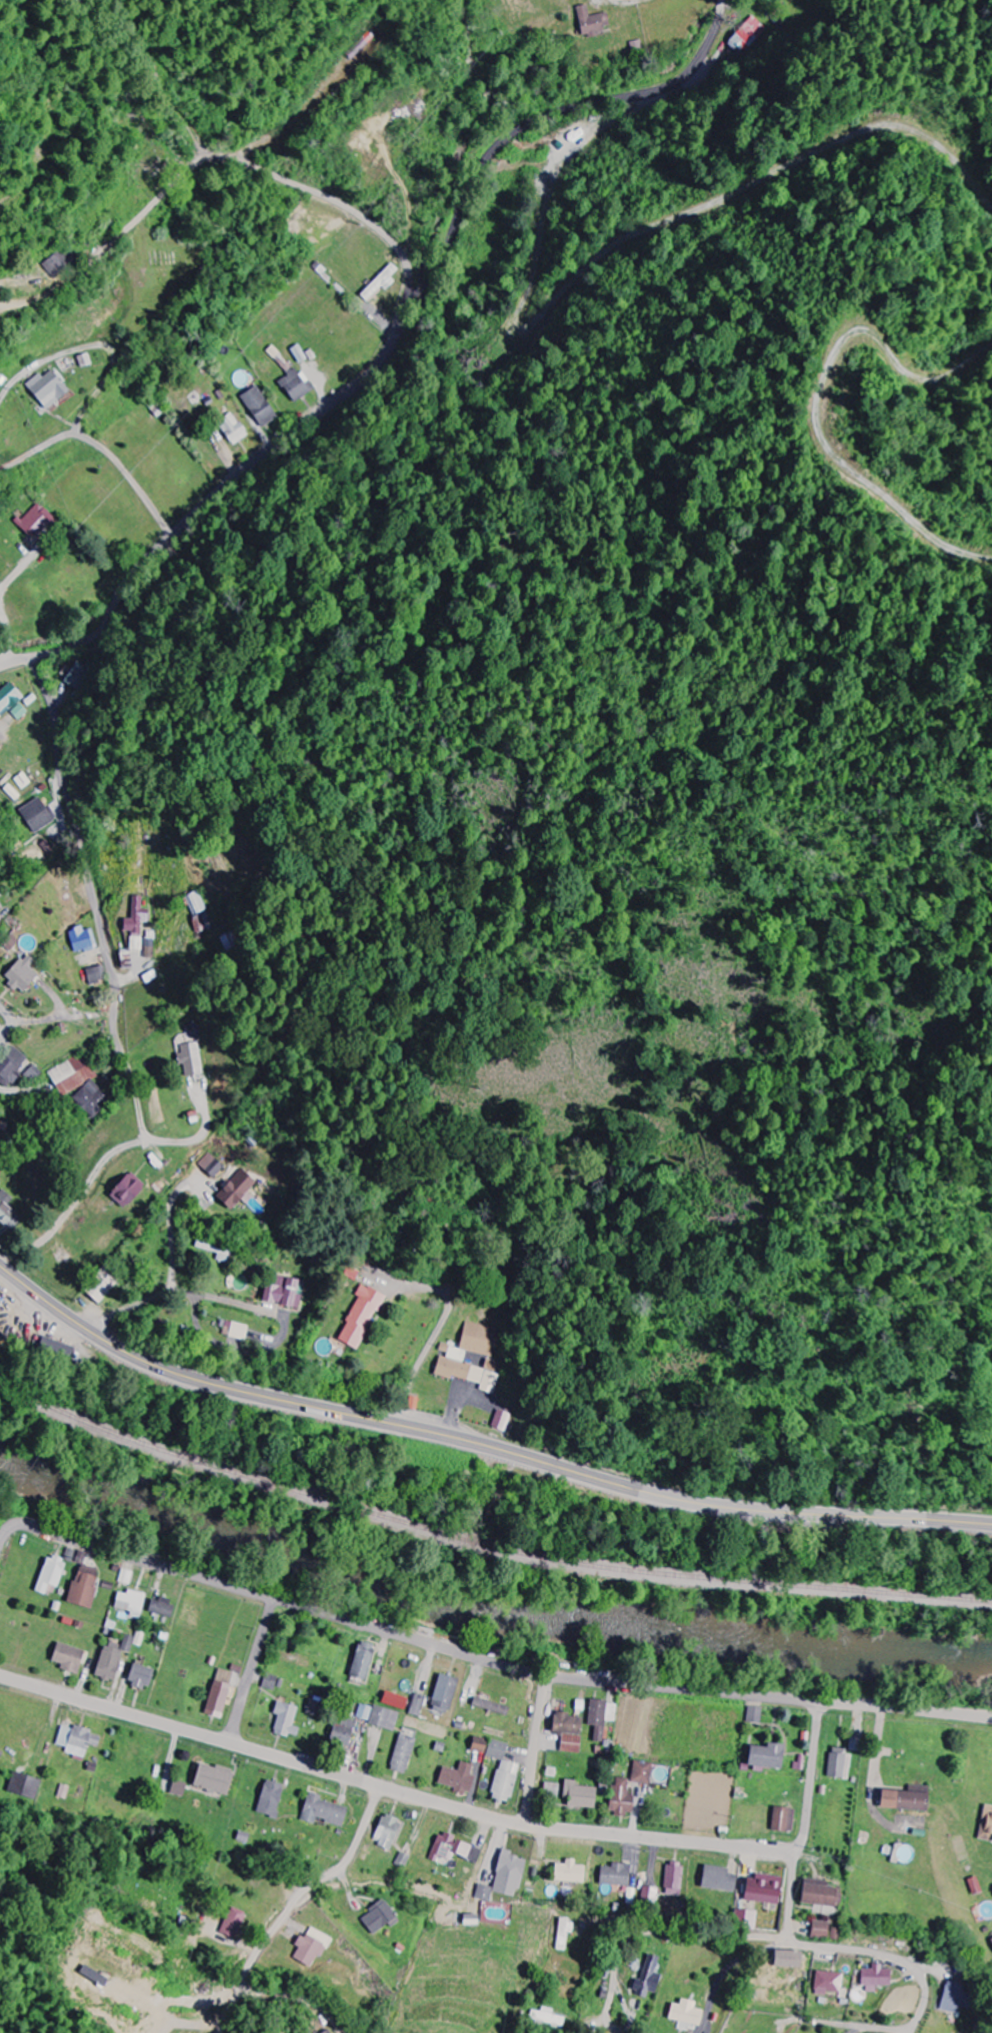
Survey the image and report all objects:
building: (590, 21)
building: (748, 35)
building: (357, 47)
road: (545, 115)
road: (205, 164)
building: (57, 264)
building: (379, 281)
building: (294, 384)
building: (47, 388)
building: (258, 406)
building: (231, 428)
road: (215, 494)
road: (149, 506)
building: (36, 521)
road: (7, 639)
building: (78, 676)
building: (7, 696)
building: (19, 711)
building: (23, 780)
building: (37, 815)
building: (195, 902)
building: (0, 907)
building: (135, 922)
building: (198, 924)
road: (103, 933)
building: (82, 939)
building: (149, 947)
building: (20, 974)
building: (96, 974)
road: (10, 1023)
building: (188, 1059)
building: (10, 1066)
building: (32, 1074)
building: (79, 1085)
building: (0, 1170)
building: (125, 1189)
building: (236, 1190)
building: (7, 1211)
building: (217, 1249)
building: (103, 1282)
building: (282, 1292)
building: (359, 1317)
building: (233, 1330)
road: (429, 1348)
building: (51, 1352)
building: (451, 1357)
building: (500, 1420)
road: (480, 1445)
railway: (483, 1543)
building: (50, 1574)
building: (83, 1586)
building: (131, 1602)
building: (160, 1607)
river: (488, 1613)
road: (401, 1637)
building: (132, 1641)
building: (67, 1657)
building: (361, 1660)
building: (107, 1662)
road: (253, 1671)
building: (138, 1676)
building: (269, 1682)
building: (219, 1693)
building: (444, 1693)
building: (394, 1700)
building: (416, 1705)
building: (489, 1706)
road: (907, 1708)
building: (364, 1712)
building: (753, 1715)
building: (600, 1717)
building: (384, 1718)
building: (286, 1719)
building: (566, 1724)
building: (341, 1733)
building: (78, 1740)
building: (570, 1743)
building: (478, 1744)
building: (496, 1749)
road: (535, 1750)
building: (402, 1753)
building: (764, 1755)
building: (839, 1763)
building: (641, 1772)
building: (457, 1777)
building: (212, 1778)
building: (505, 1781)
road: (812, 1781)
building: (25, 1786)
building: (178, 1788)
road: (392, 1789)
building: (552, 1790)
building: (579, 1795)
building: (621, 1797)
building: (269, 1798)
building: (905, 1798)
building: (322, 1811)
building: (783, 1819)
building: (986, 1824)
building: (386, 1831)
building: (455, 1848)
building: (901, 1852)
building: (570, 1872)
building: (509, 1874)
building: (616, 1874)
building: (674, 1878)
building: (718, 1879)
building: (975, 1885)
building: (763, 1888)
building: (484, 1892)
building: (818, 1893)
building: (651, 1895)
road: (292, 1908)
building: (379, 1917)
building: (471, 1919)
building: (746, 1919)
building: (232, 1922)
building: (820, 1929)
building: (564, 1932)
road: (688, 1935)
building: (991, 1939)
building: (312, 1947)
road: (846, 1950)
building: (787, 1959)
building: (92, 1976)
building: (649, 1976)
building: (875, 1978)
building: (827, 1982)
road: (612, 1995)
building: (952, 1997)
building: (685, 2015)
building: (548, 2017)
road: (864, 2027)
building: (326, 2031)

